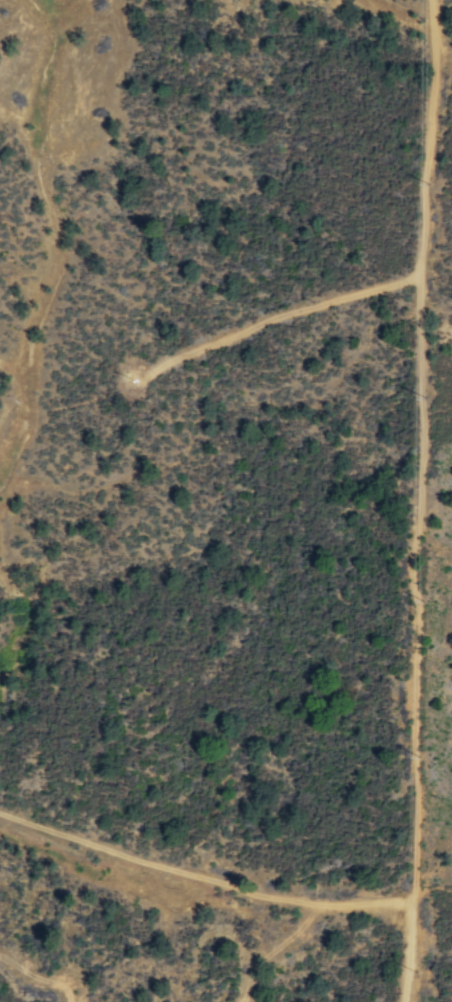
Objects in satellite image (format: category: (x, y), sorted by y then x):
road: (428, 137)
road: (271, 318)
road: (413, 589)
road: (155, 864)
road: (433, 888)
road: (361, 902)
road: (271, 950)
road: (409, 952)
road: (38, 977)

